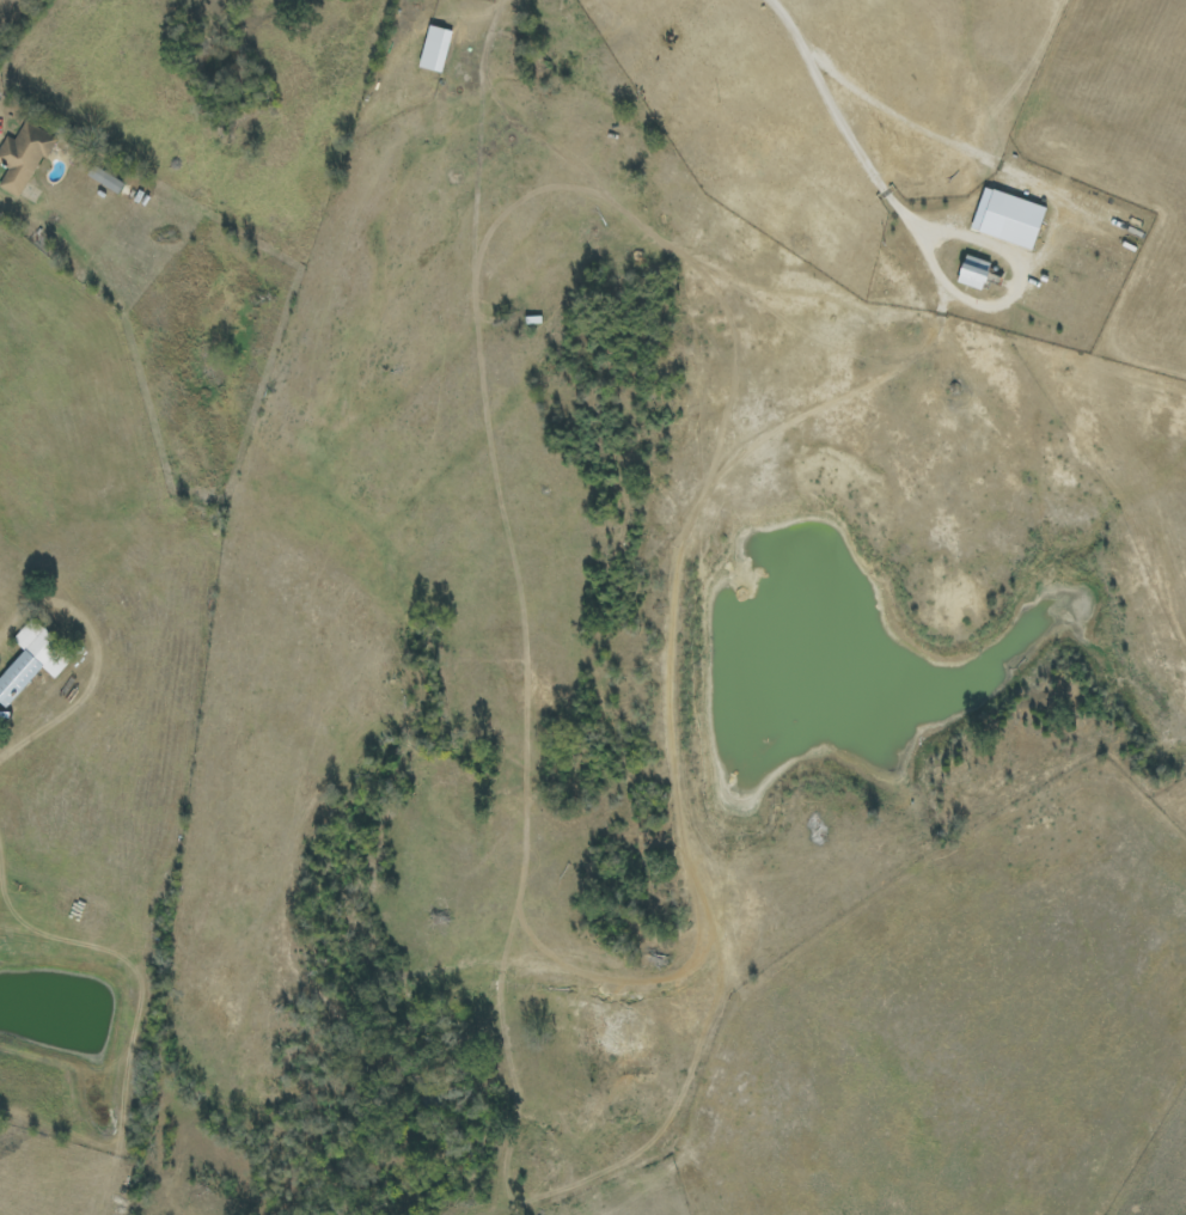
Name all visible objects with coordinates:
building: (435, 49)
road: (844, 129)
building: (23, 158)
building: (1008, 218)
building: (974, 271)
building: (32, 660)

